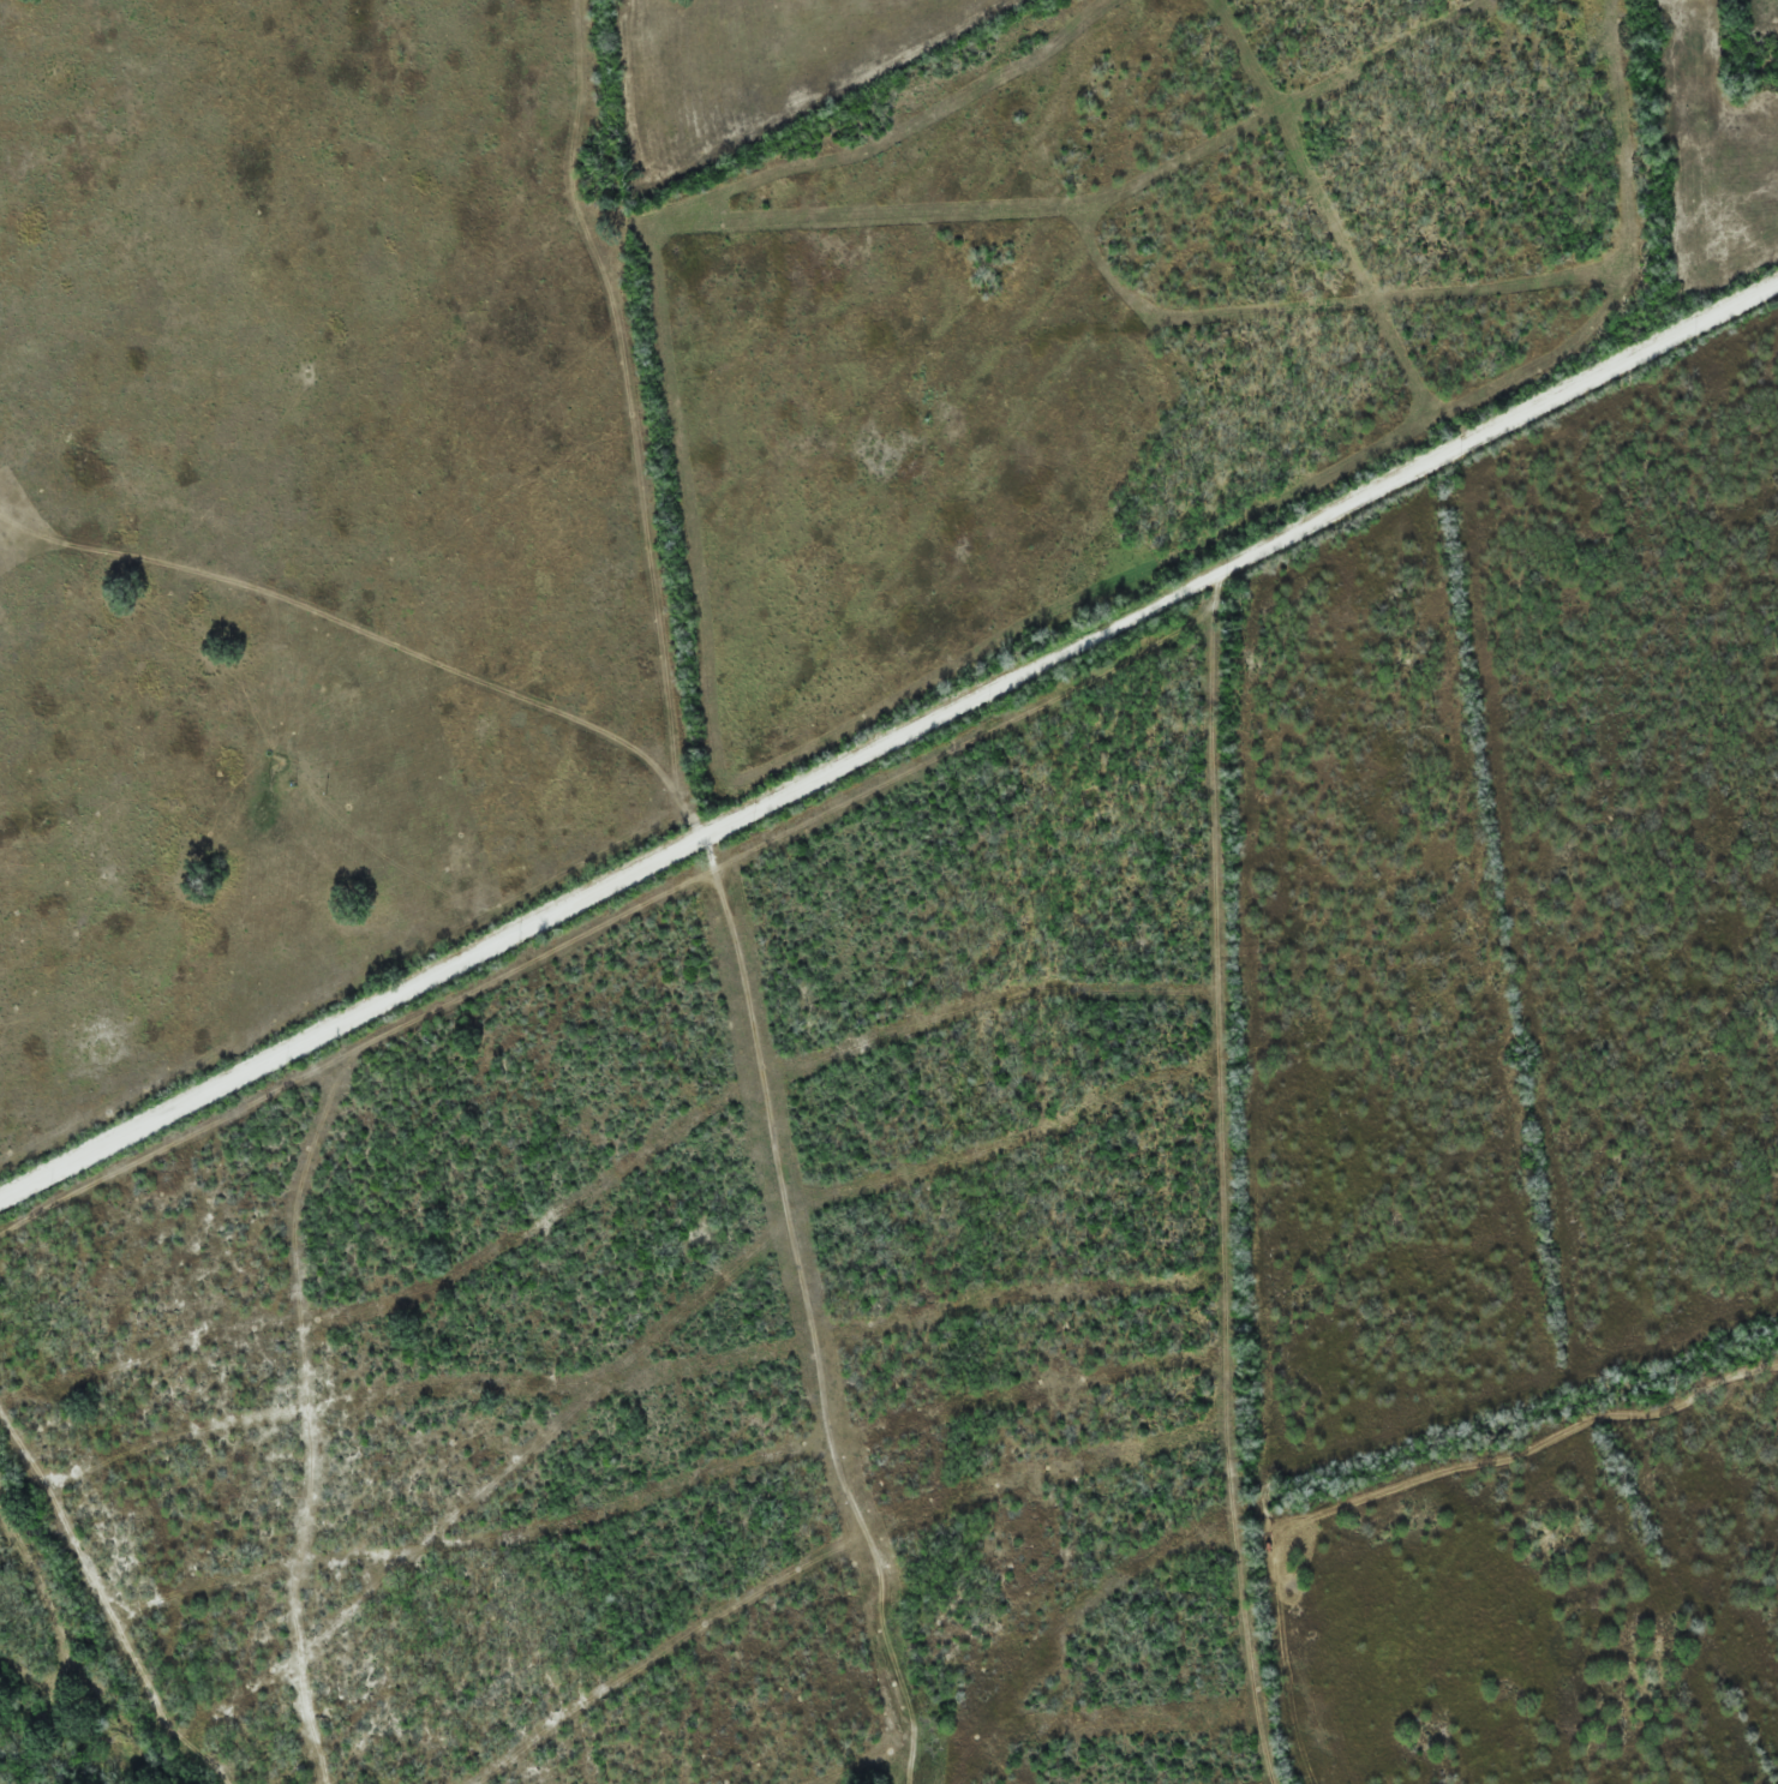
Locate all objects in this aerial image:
road: (887, 743)

